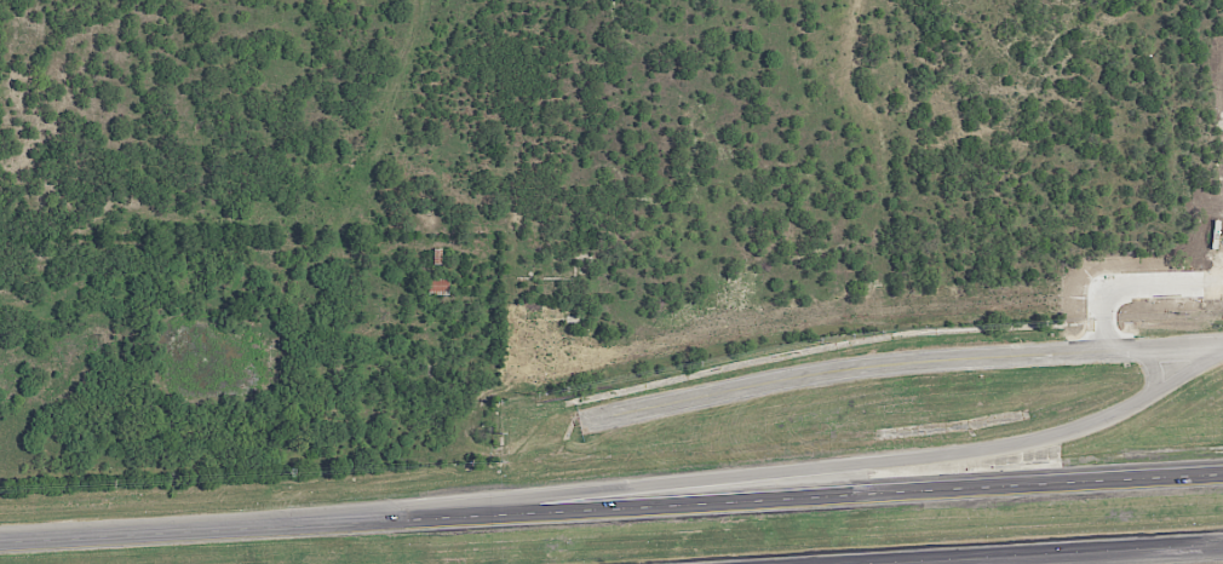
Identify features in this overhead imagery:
building: (436, 254)
building: (437, 283)
road: (1135, 284)
road: (898, 363)
road: (1152, 373)
road: (730, 480)
road: (610, 511)
road: (1092, 554)

